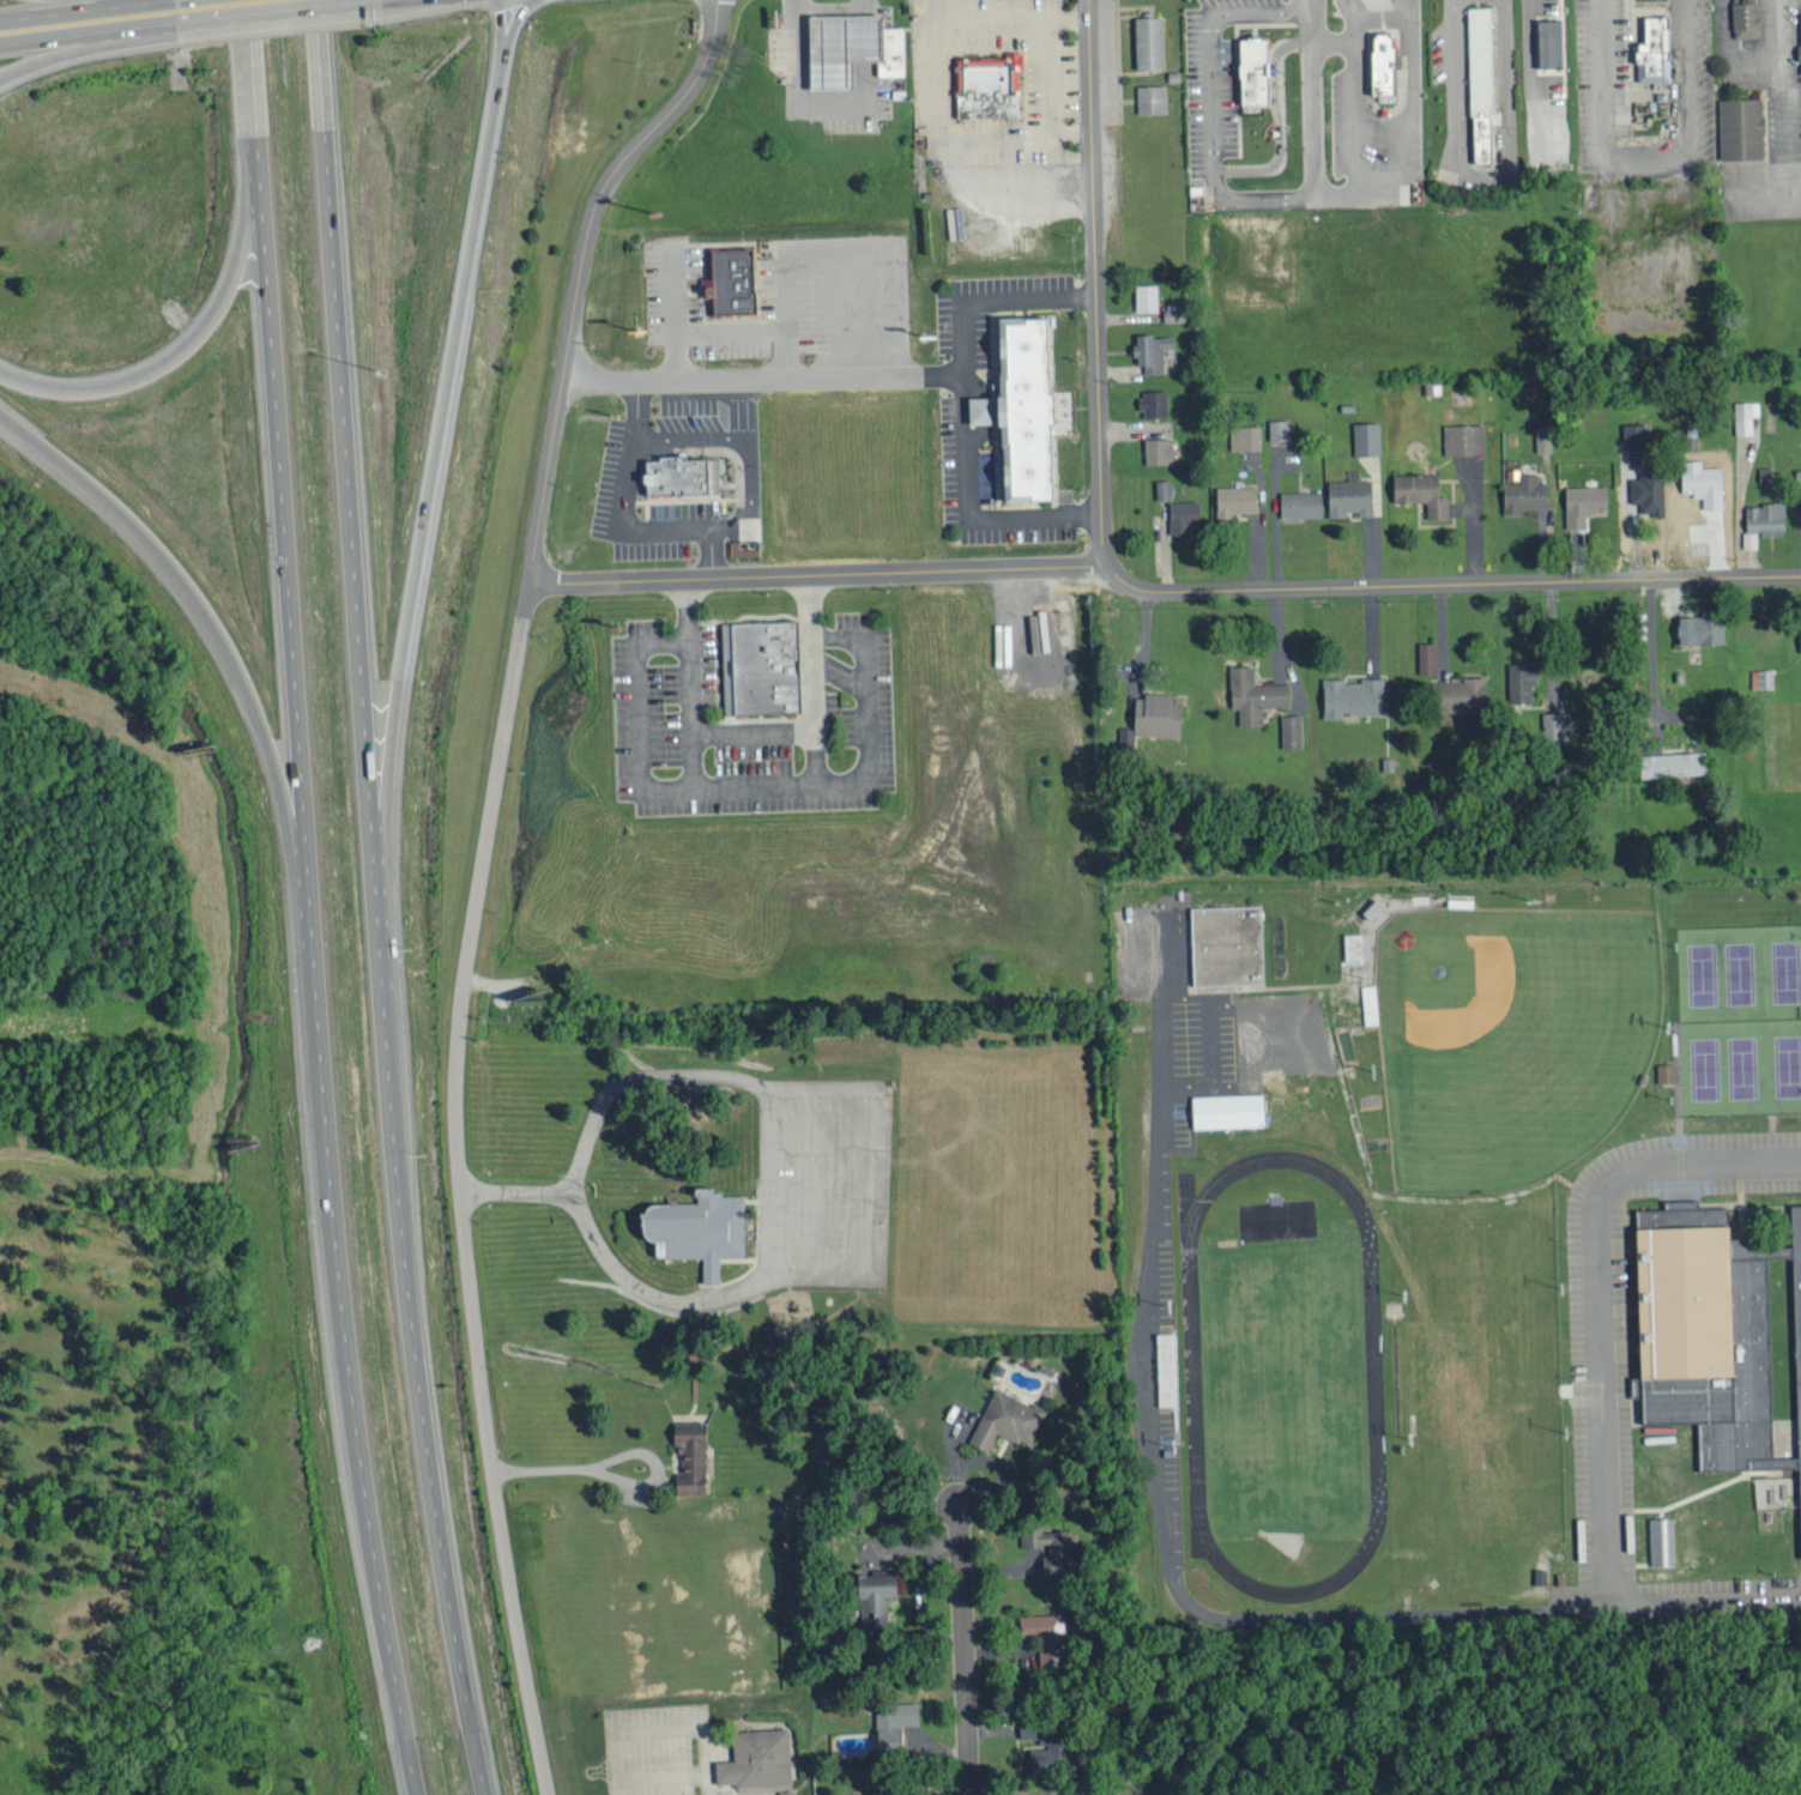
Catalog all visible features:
road: (138, 1)
road: (156, 1)
road: (391, 1)
road: (866, 7)
road: (1373, 10)
road: (73, 11)
road: (1326, 11)
road: (938, 12)
road: (278, 13)
building: (1746, 18)
road: (90, 35)
road: (866, 40)
building: (1150, 41)
road: (1209, 42)
building: (1549, 42)
road: (502, 49)
building: (838, 49)
gas station: (838, 49)
building: (1652, 49)
road: (75, 52)
building: (889, 53)
parking lot: (1217, 69)
building: (1374, 69)
building: (1253, 78)
building: (1479, 89)
parking lot: (1501, 89)
building: (987, 90)
parking lot: (1048, 90)
parking lot: (1644, 91)
building: (1152, 97)
road: (1403, 98)
road: (1348, 101)
road: (799, 102)
road: (1276, 121)
building: (1742, 127)
road: (1052, 141)
road: (1312, 156)
road: (1643, 157)
road: (1481, 176)
road: (1328, 191)
road: (1100, 270)
building: (732, 282)
building: (1147, 296)
parking lot: (782, 302)
road: (188, 344)
building: (1152, 349)
road: (760, 376)
building: (1153, 400)
road: (960, 411)
parking lot: (954, 415)
building: (1019, 415)
building: (1280, 428)
building: (1545, 433)
building: (1636, 433)
road: (688, 435)
building: (1245, 435)
building: (1367, 436)
building: (1464, 436)
road: (720, 447)
building: (1159, 448)
road: (434, 461)
building: (1797, 477)
parking lot: (625, 478)
building: (685, 478)
building: (1162, 486)
building: (1421, 490)
building: (1525, 491)
building: (1349, 495)
building: (1235, 498)
building: (1301, 501)
building: (1583, 502)
building: (1184, 514)
building: (1767, 514)
road: (688, 528)
building: (1749, 537)
road: (1104, 551)
road: (709, 552)
road: (817, 574)
road: (1449, 584)
road: (191, 587)
building: (1700, 627)
building: (1427, 655)
parking lot: (671, 671)
building: (761, 671)
building: (1763, 676)
building: (1522, 678)
building: (1252, 691)
building: (1464, 693)
building: (1352, 695)
road: (866, 705)
building: (1158, 712)
road: (639, 715)
building: (1557, 725)
building: (1292, 729)
building: (1125, 735)
building: (1673, 761)
road: (753, 784)
road: (481, 876)
road: (382, 899)
road: (301, 900)
building: (1228, 943)
building: (1353, 944)
building: (1370, 1002)
park: (1739, 1016)
park: (1505, 1039)
building: (1664, 1070)
building: (1229, 1108)
road: (766, 1170)
parking lot: (828, 1183)
road: (515, 1186)
building: (695, 1233)
road: (1595, 1289)
building: (1711, 1335)
building: (1167, 1367)
track: (1282, 1377)
track: (1373, 1378)
building: (1008, 1418)
building: (691, 1456)
road: (616, 1480)
building: (1661, 1539)
building: (1051, 1547)
road: (1700, 1592)
building: (877, 1595)
road: (1265, 1616)
building: (1045, 1636)
road: (961, 1650)
building: (894, 1724)
building: (1028, 1724)
parking lot: (663, 1749)
building: (1050, 1749)
building: (756, 1759)
building: (858, 1793)
building: (874, 1793)
building: (901, 1794)

